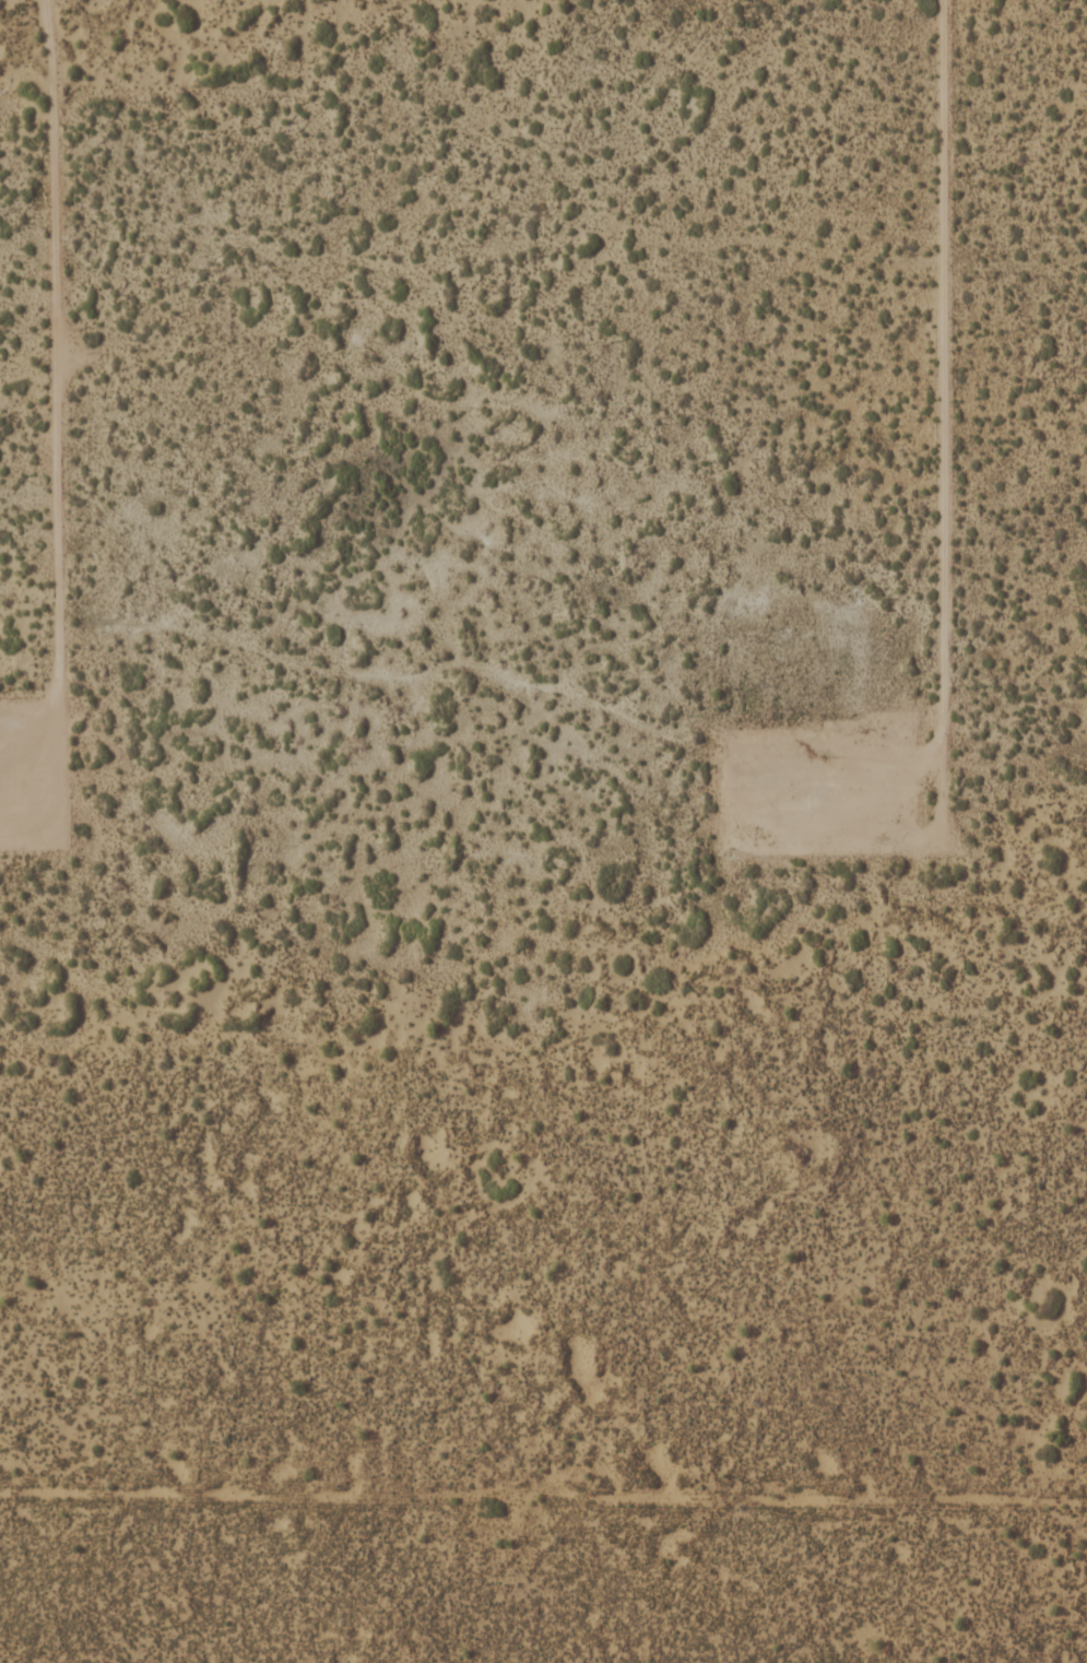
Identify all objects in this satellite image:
road: (58, 376)
road: (956, 396)
petroleum well: (825, 757)

